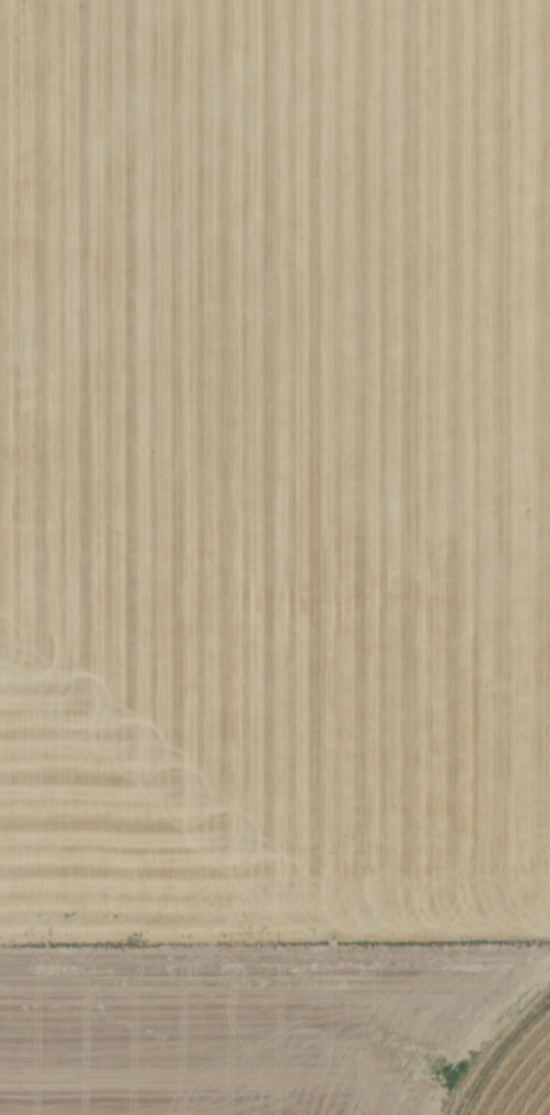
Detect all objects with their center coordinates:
crop: (528, 1083)

